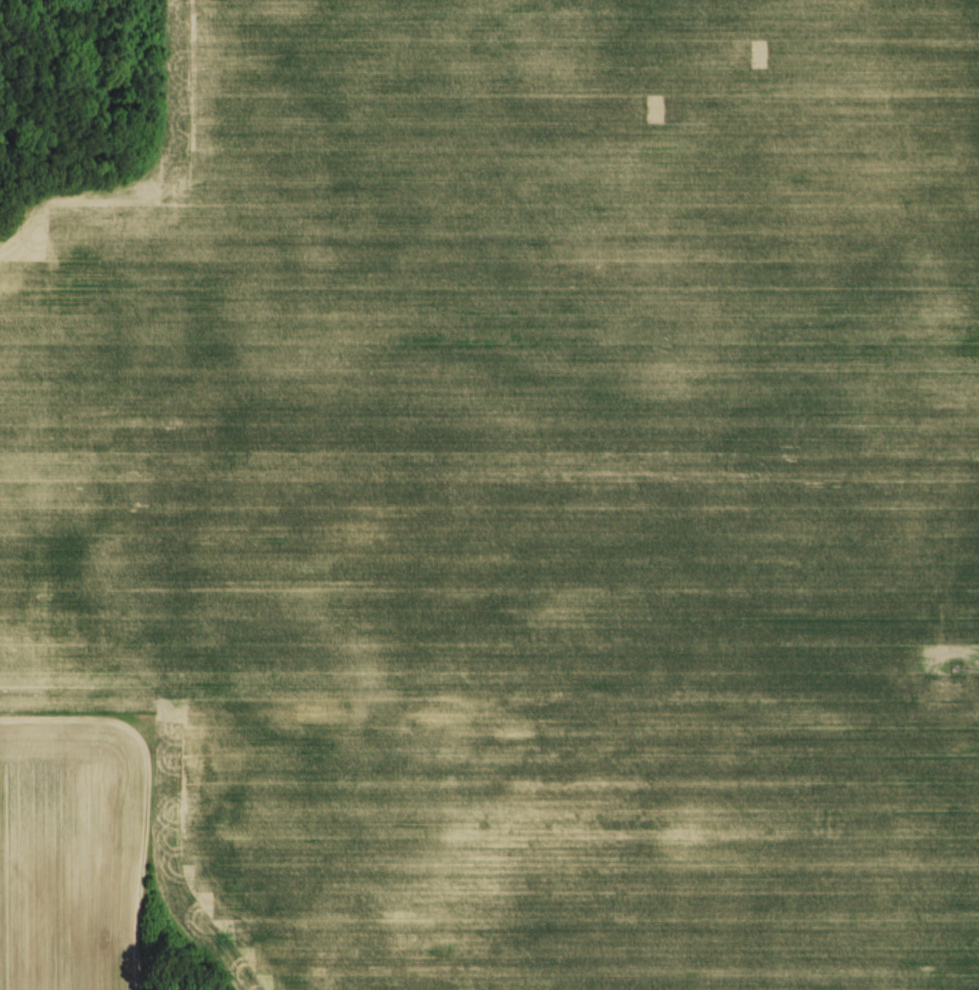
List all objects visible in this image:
crop: (529, 488)
crop: (85, 842)

